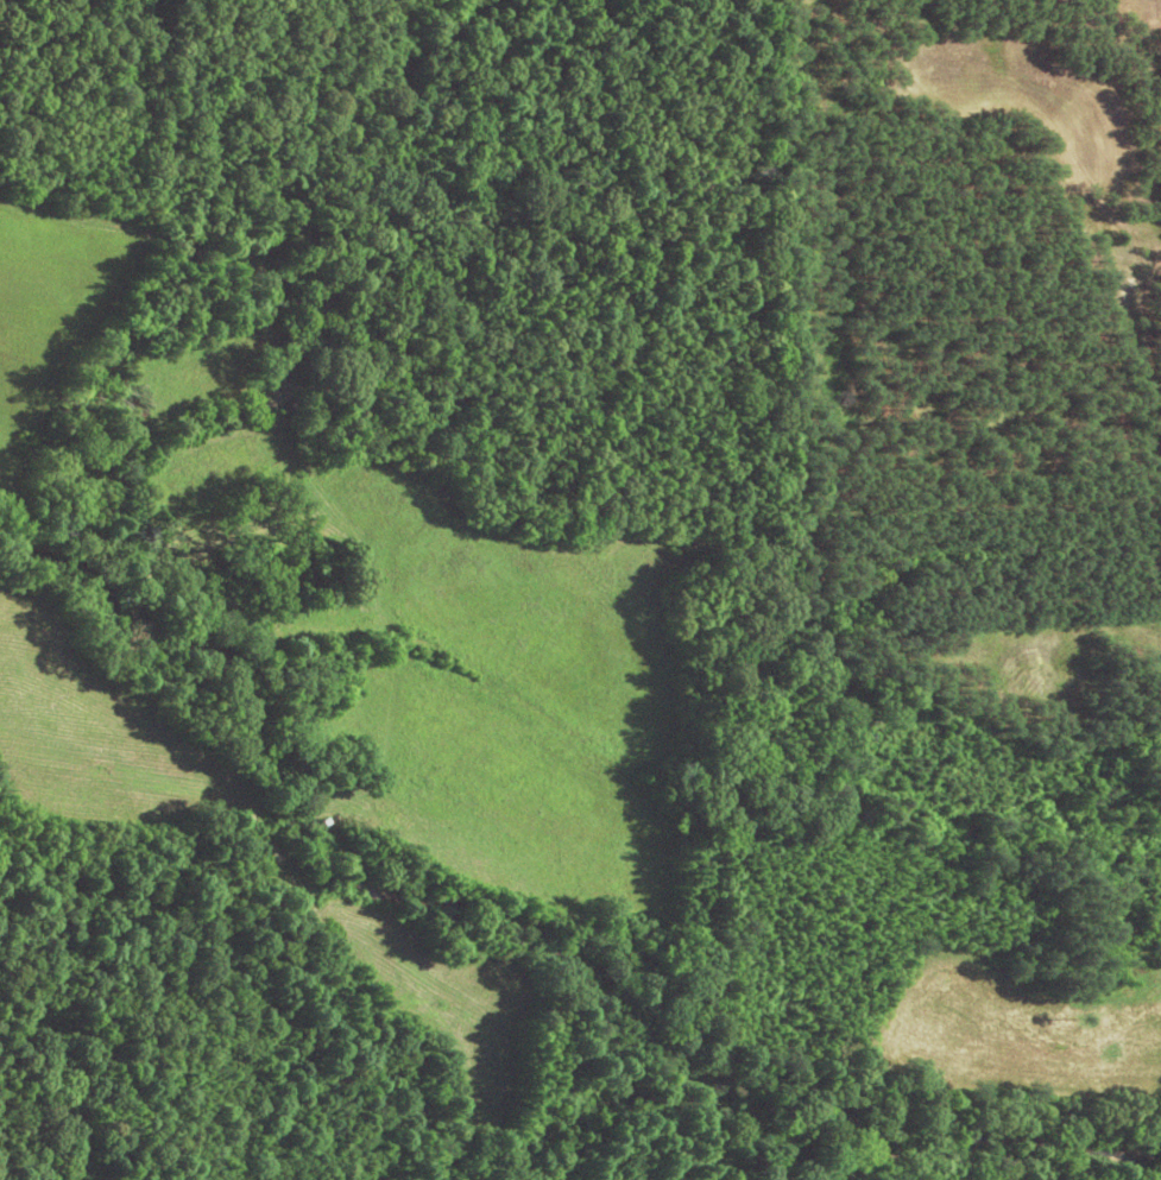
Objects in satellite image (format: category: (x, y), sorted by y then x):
road: (202, 260)

